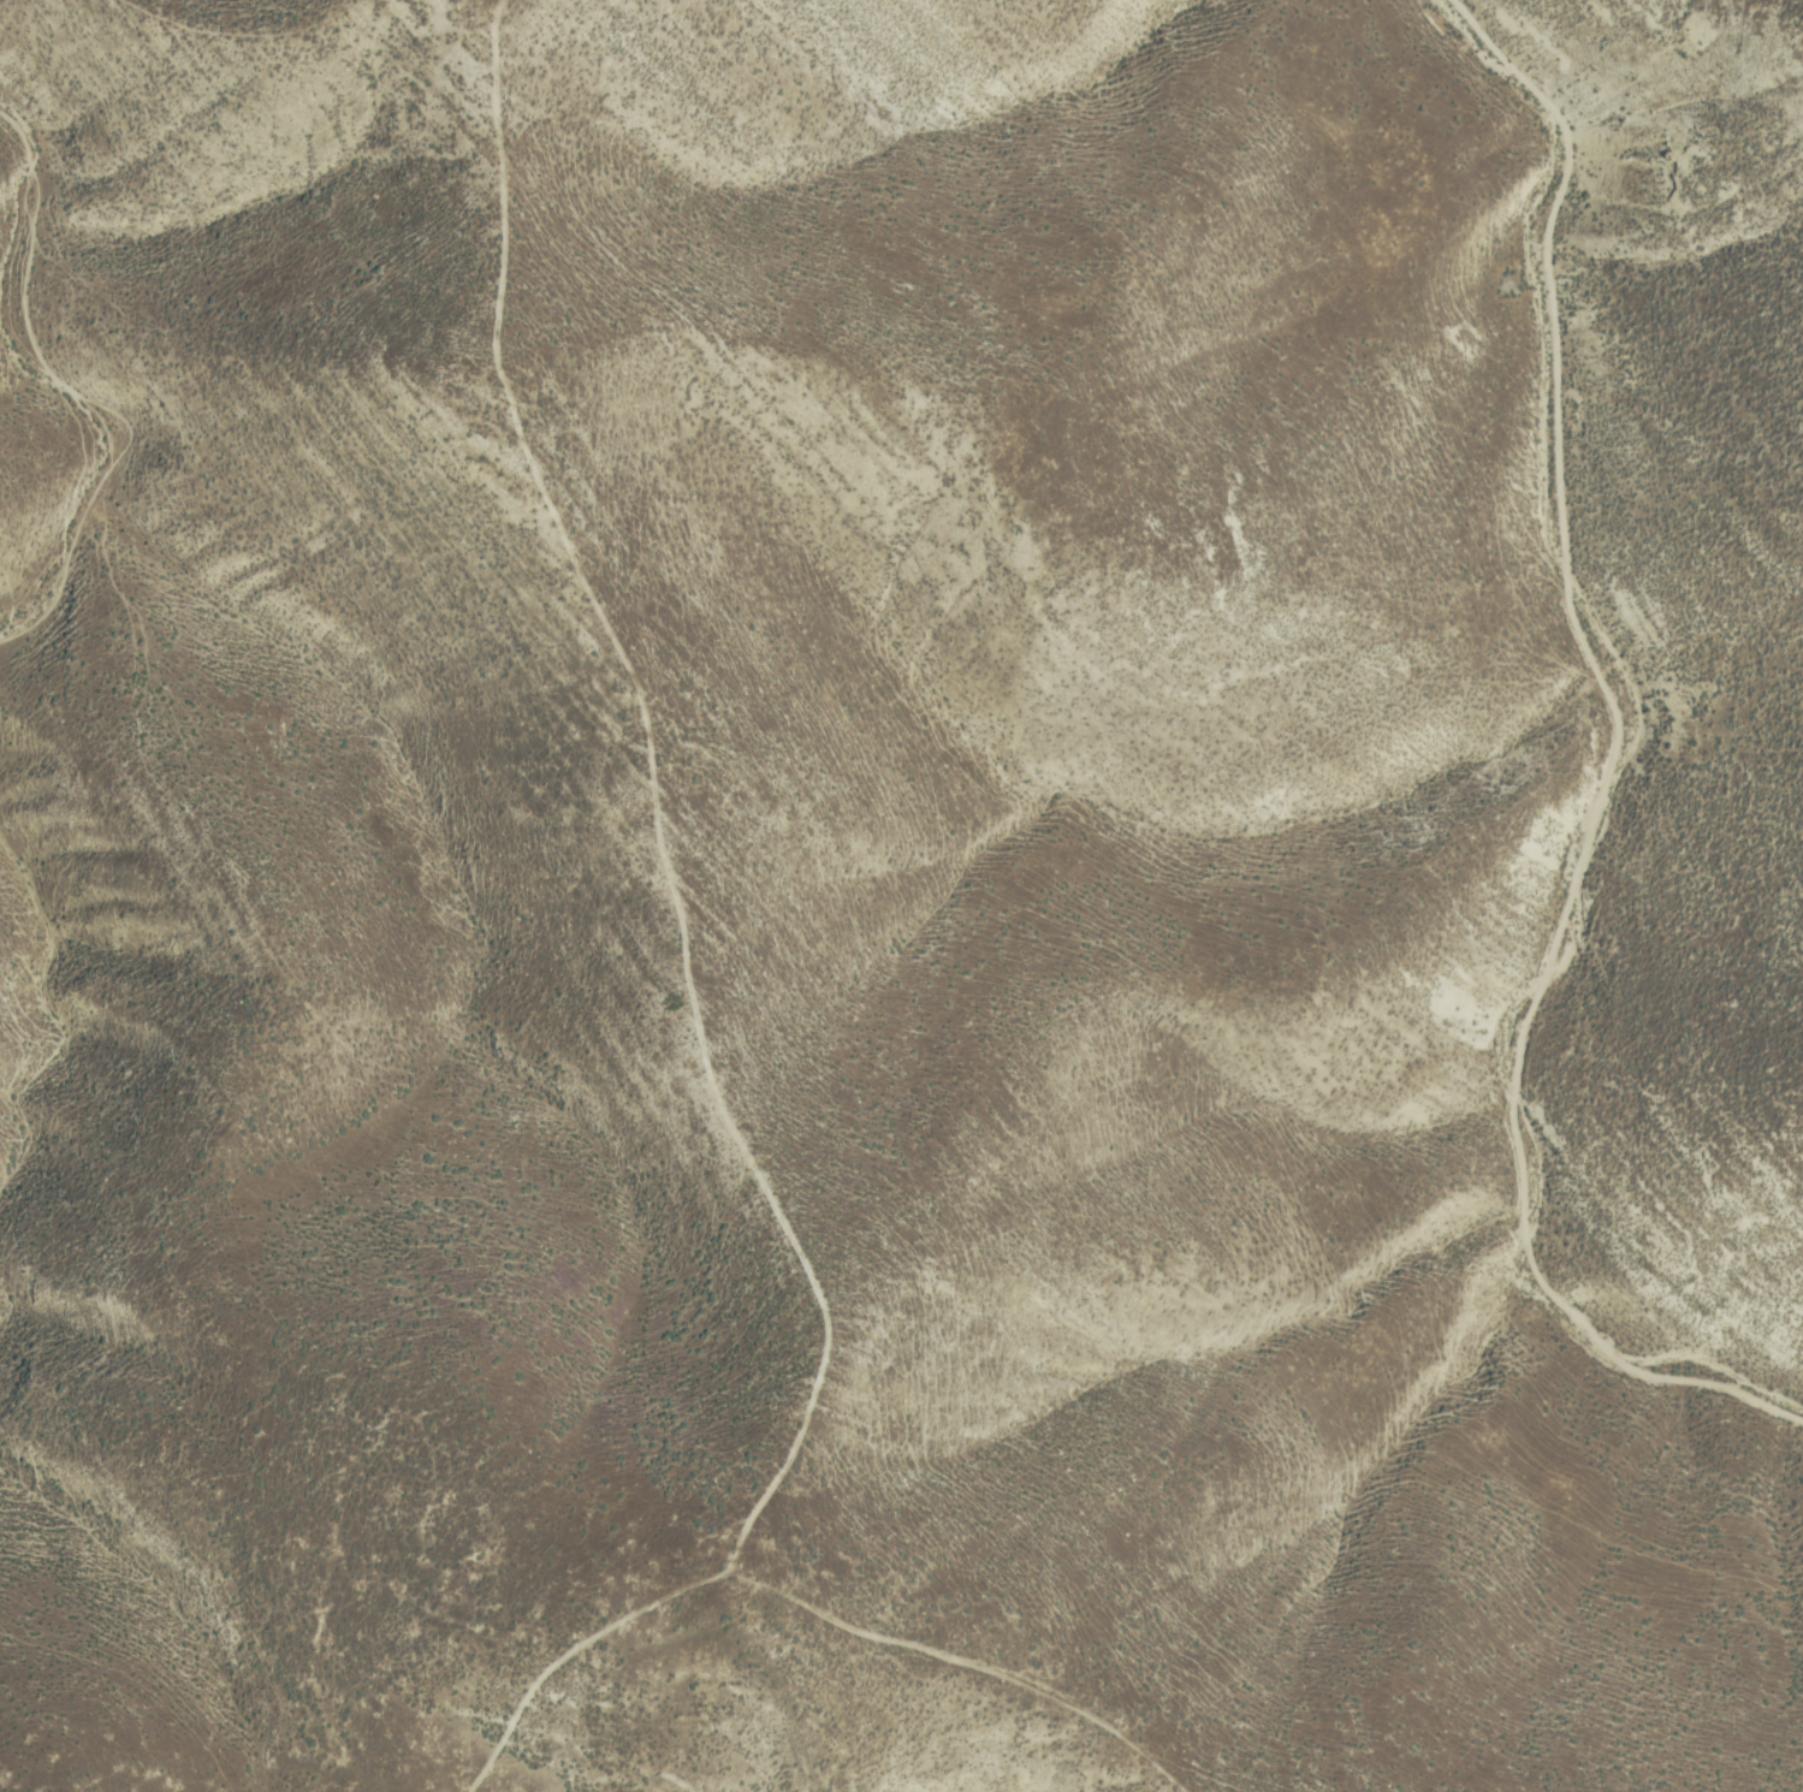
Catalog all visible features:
road: (720, 1573)

